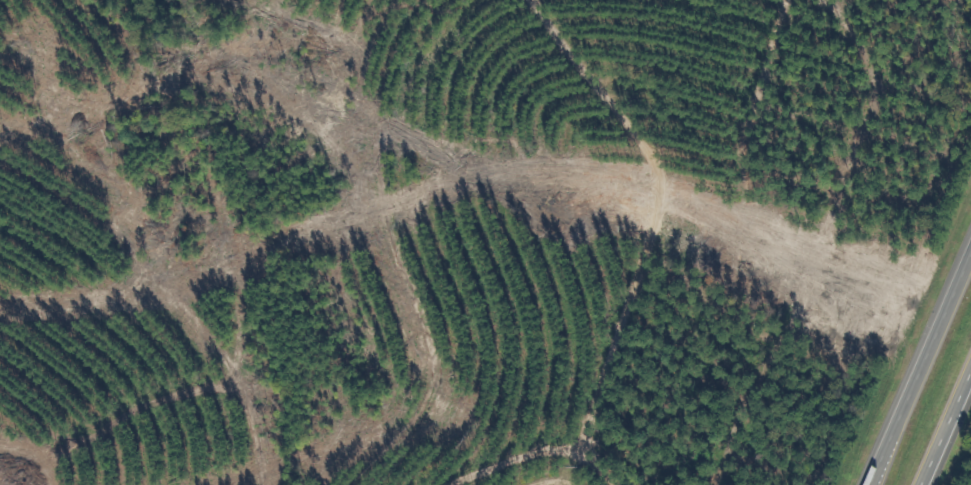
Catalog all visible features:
road: (916, 358)
road: (945, 426)

